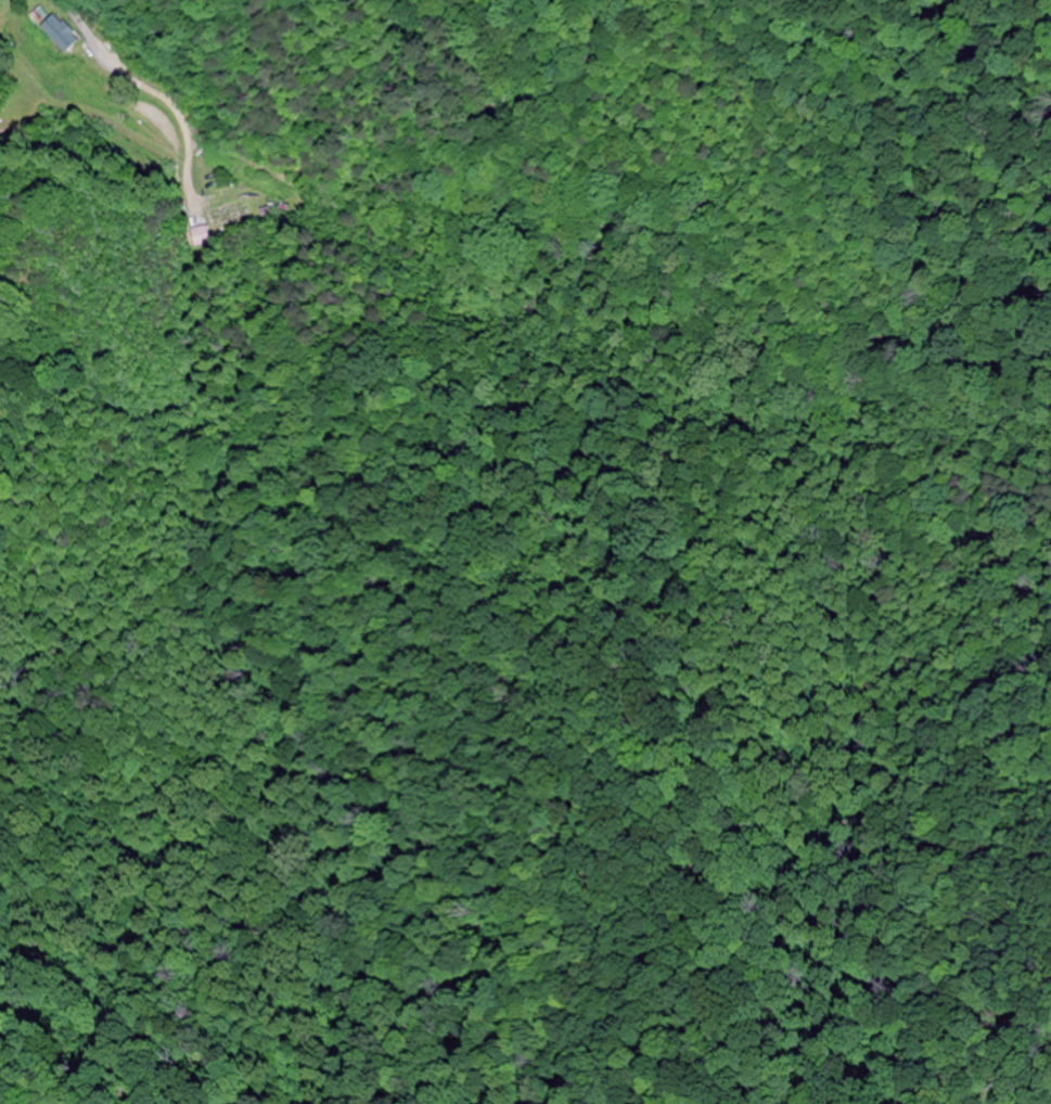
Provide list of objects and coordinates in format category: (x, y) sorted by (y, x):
road: (148, 85)
building: (229, 213)
building: (200, 235)

